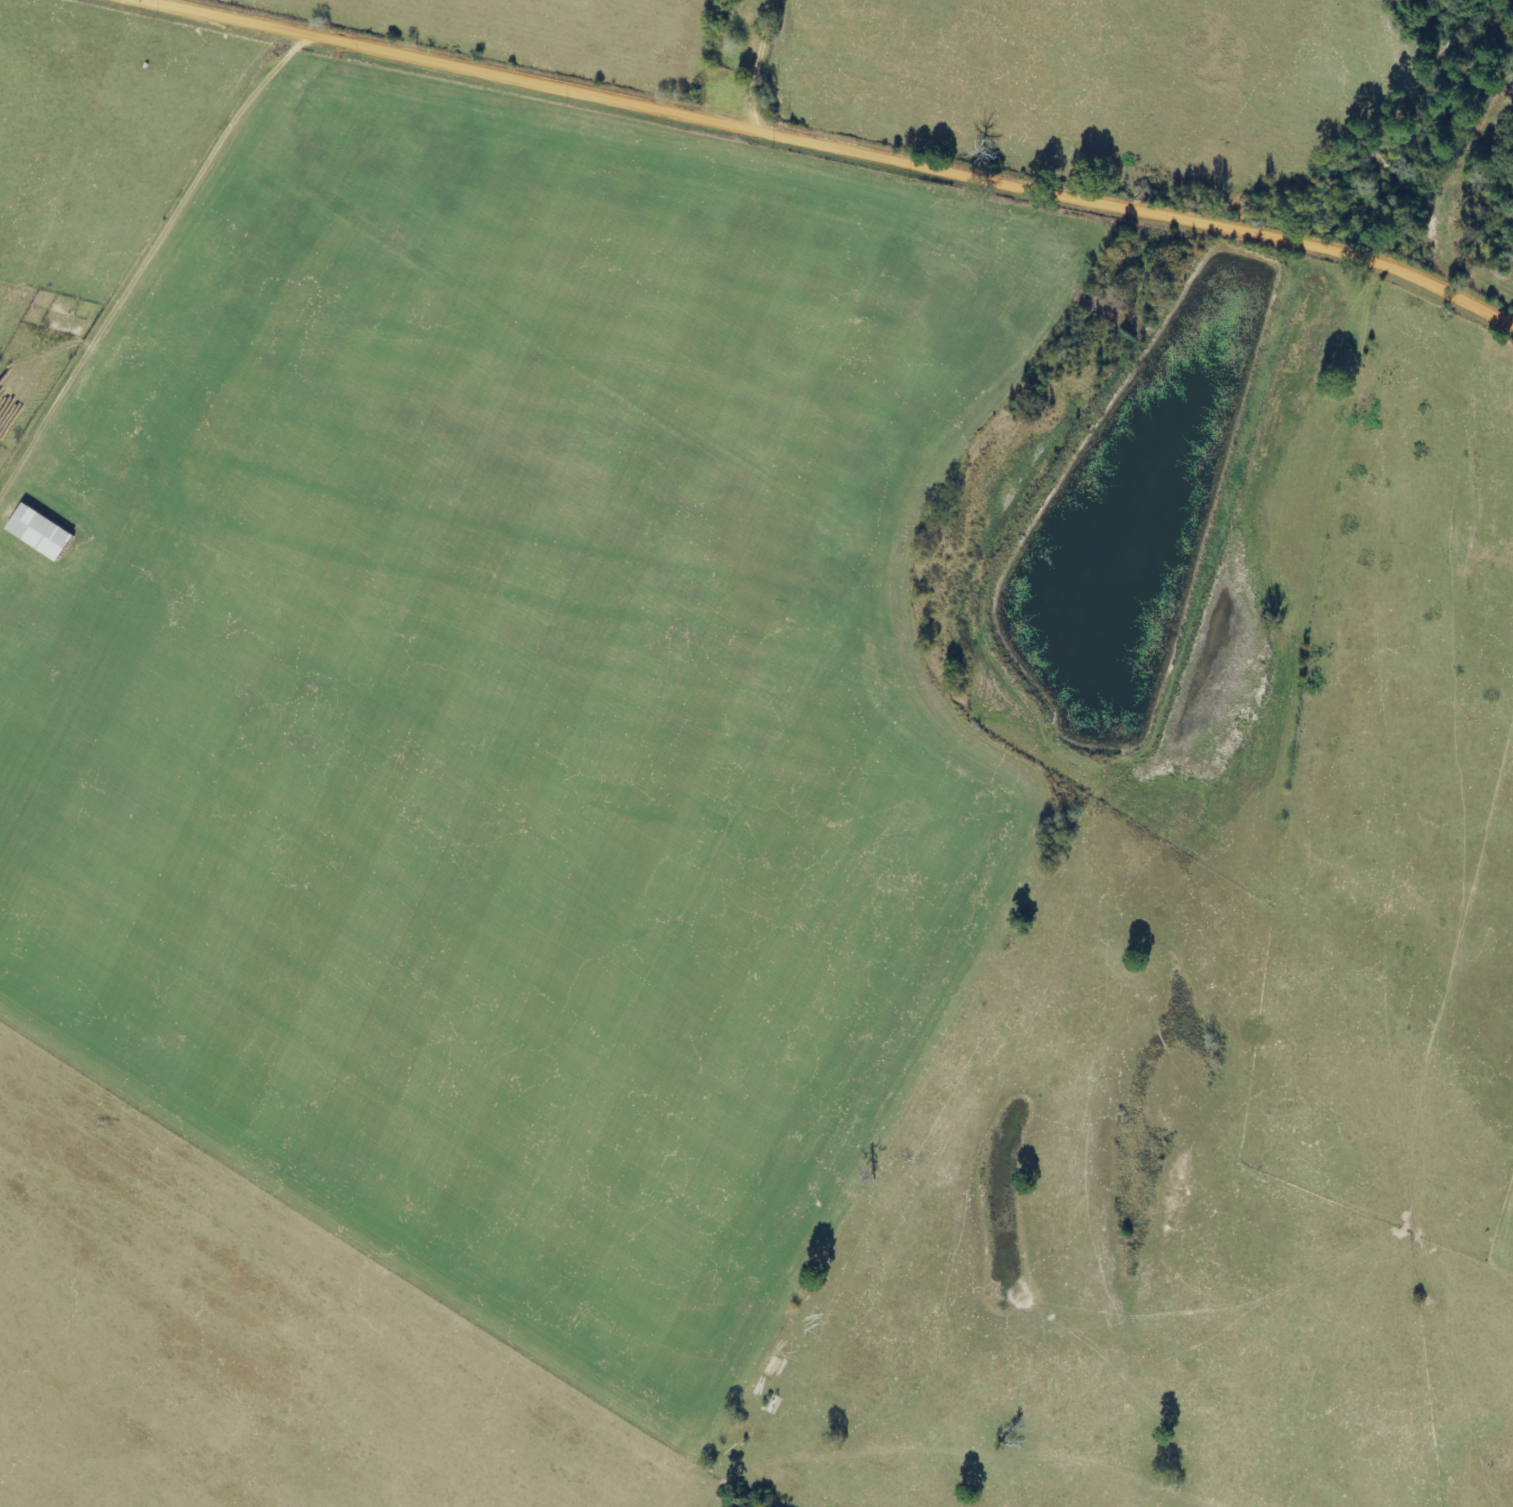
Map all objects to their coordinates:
road: (722, 43)
road: (756, 49)
road: (883, 123)
road: (64, 140)
road: (565, 1359)

